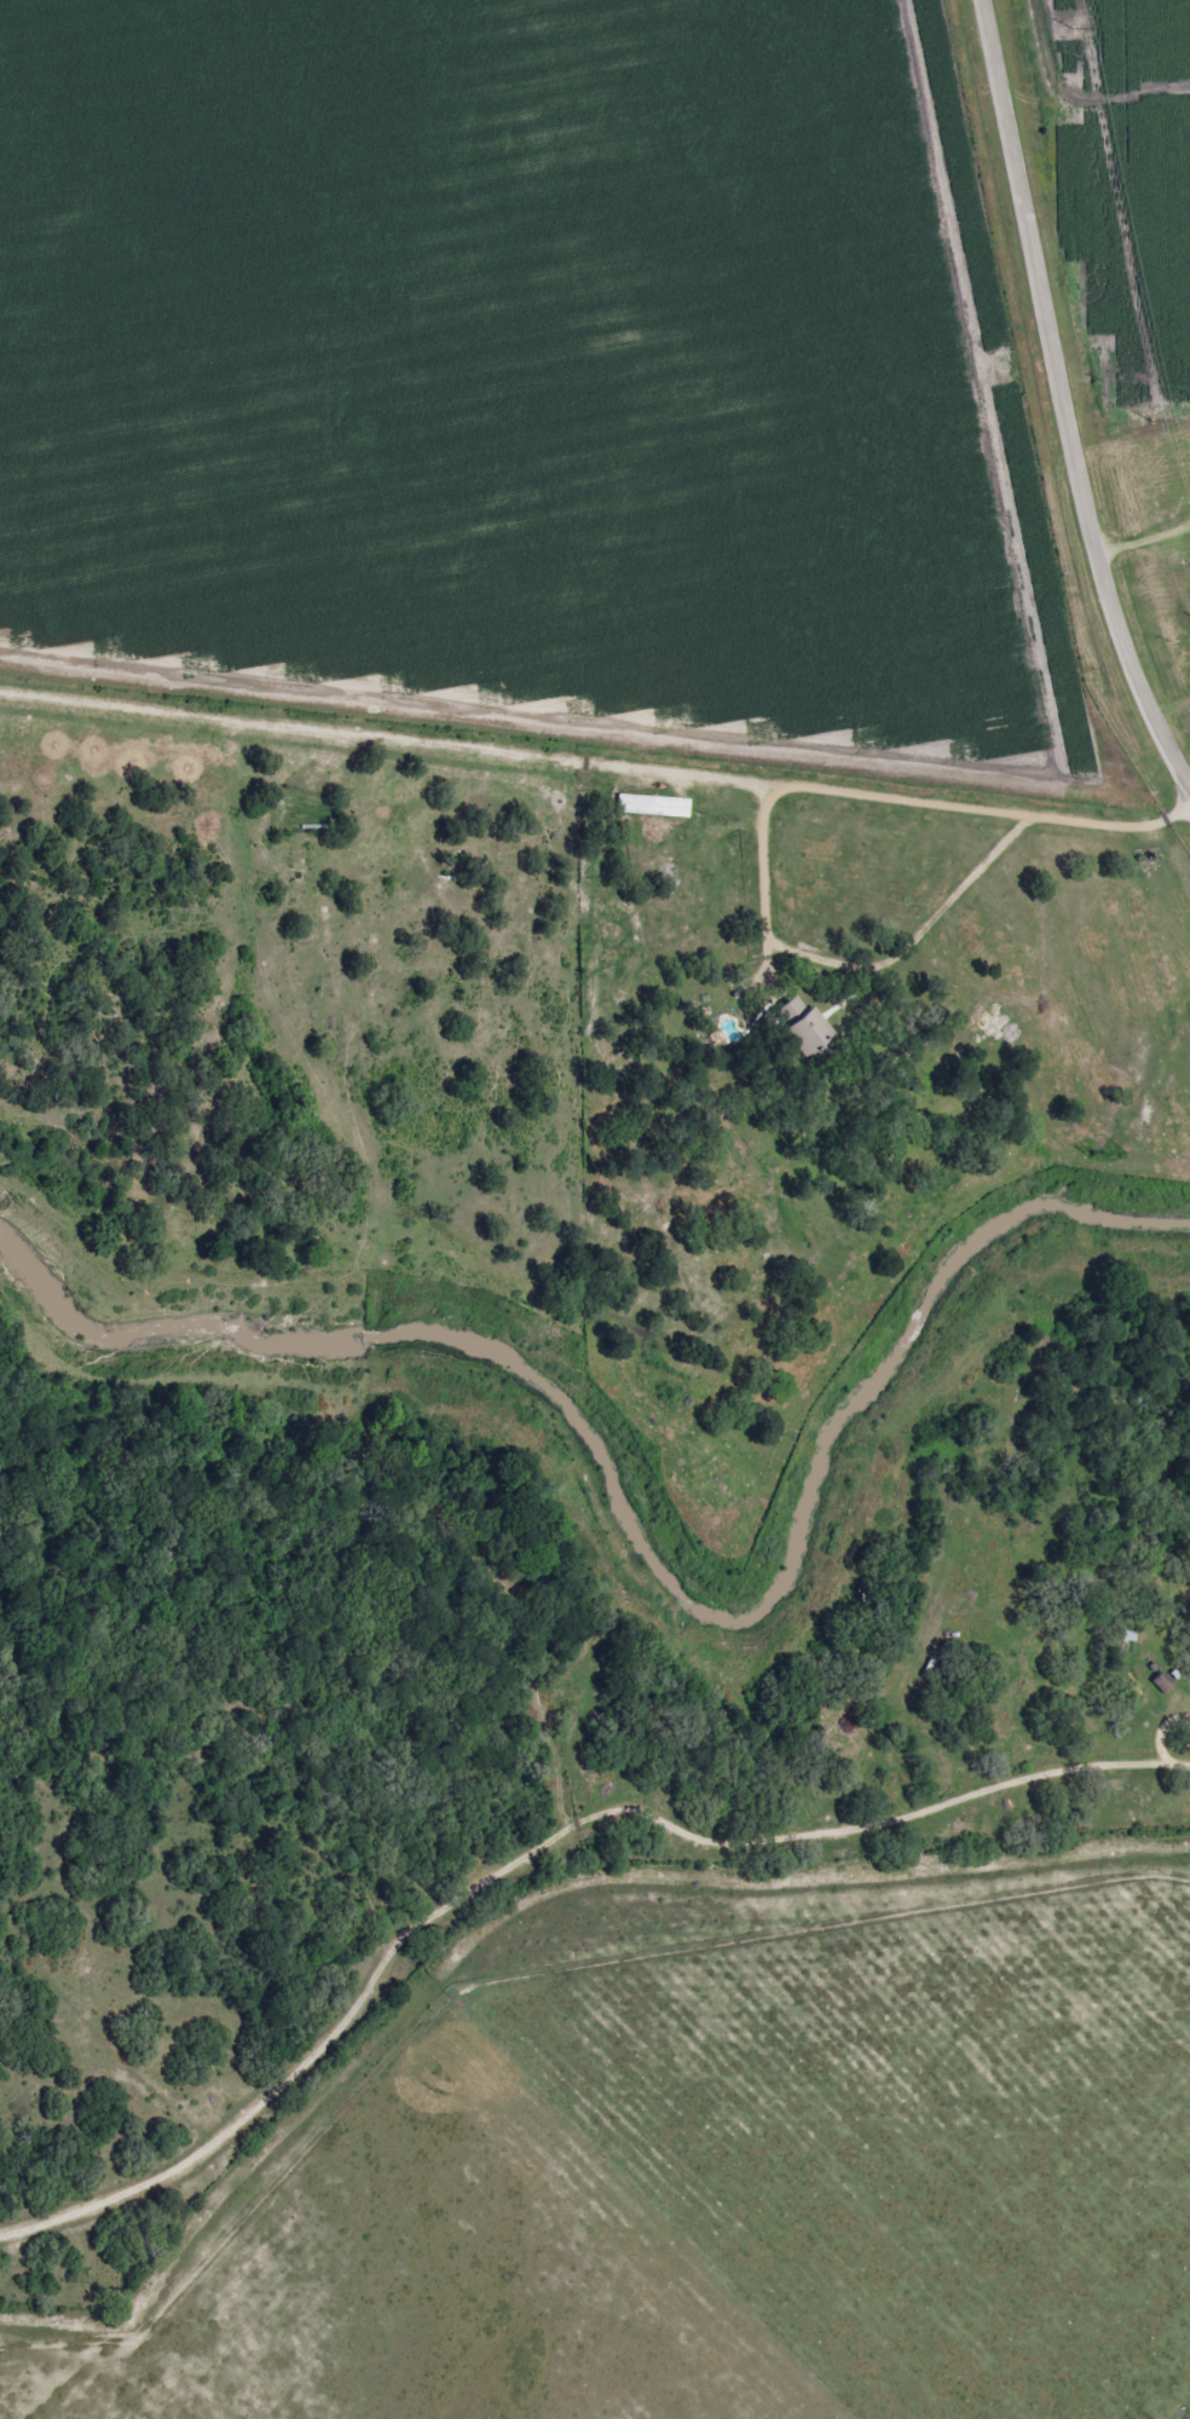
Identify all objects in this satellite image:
road: (1067, 396)
road: (596, 752)
building: (642, 802)
building: (790, 1022)
river: (648, 1548)
road: (536, 1843)

